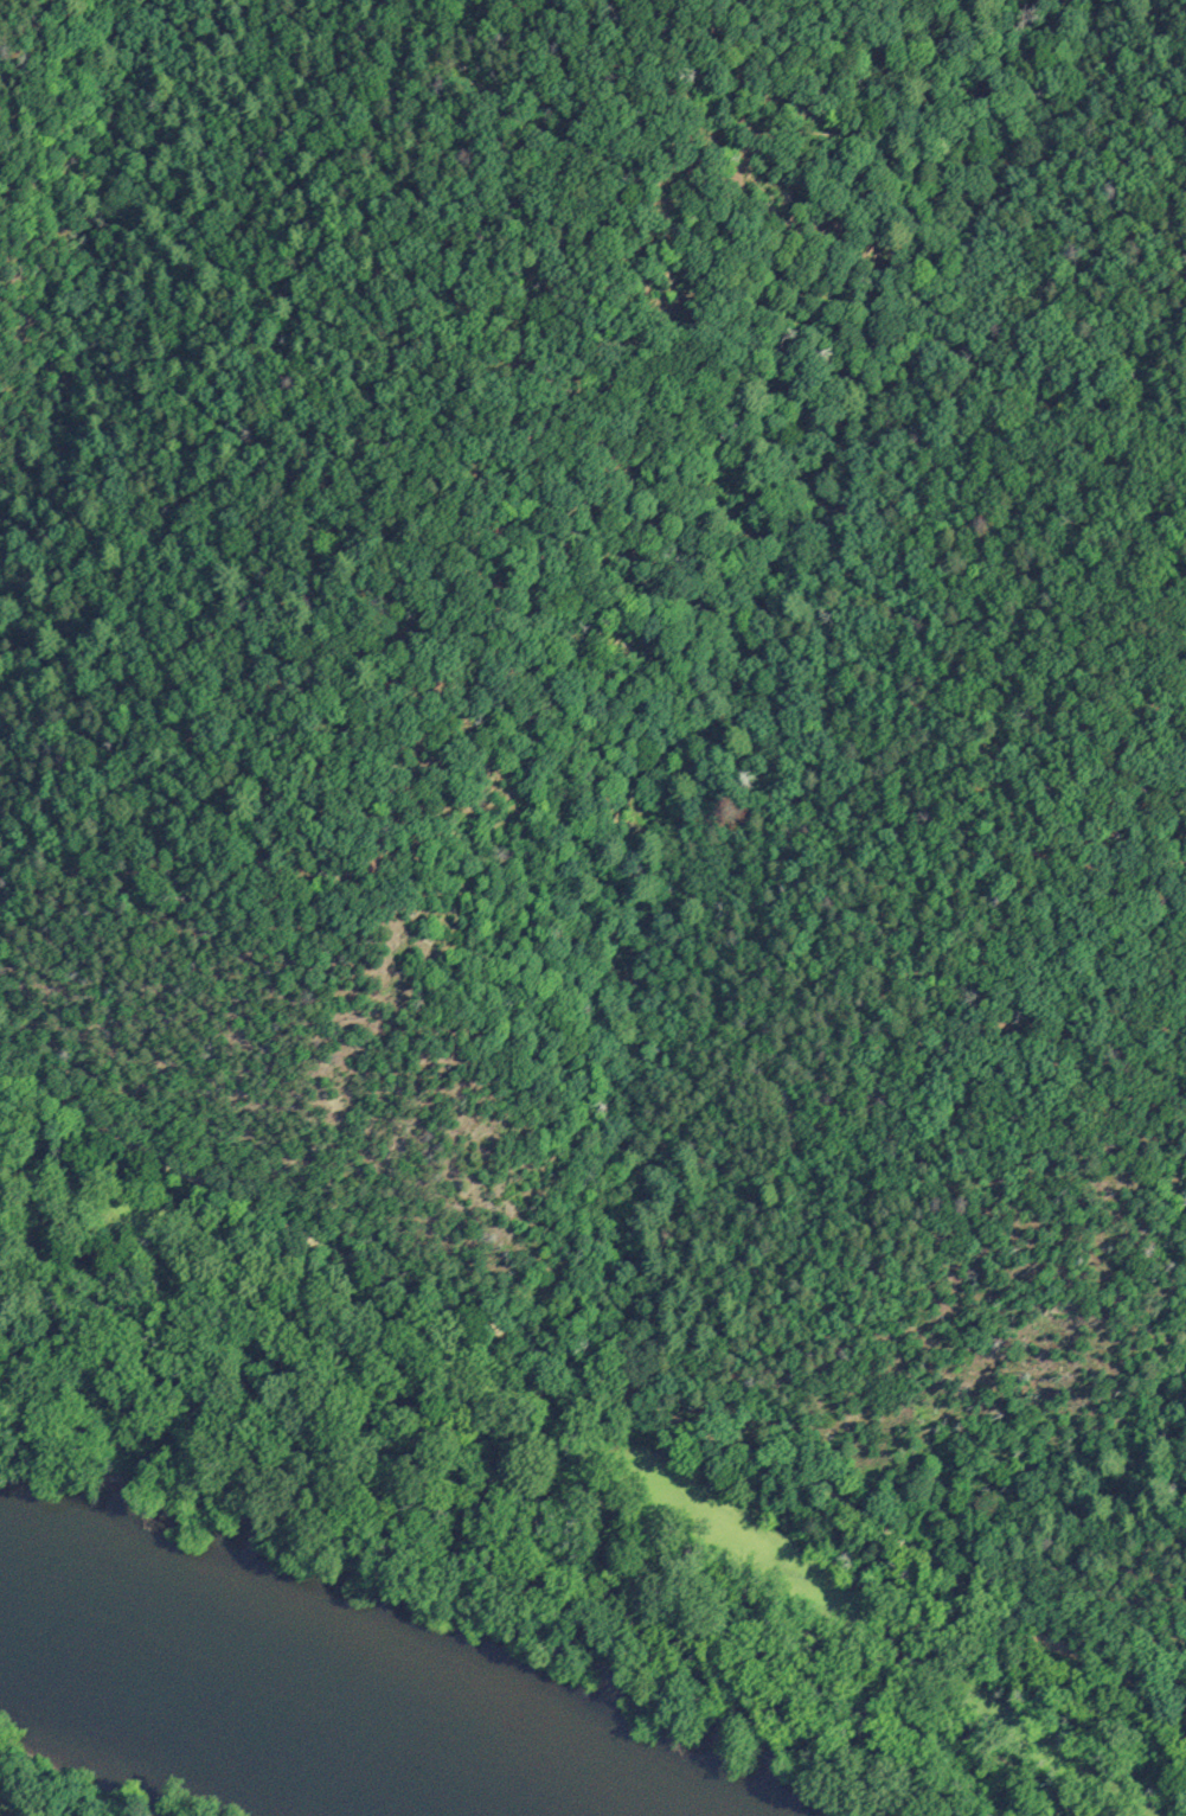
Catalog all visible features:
road: (603, 1382)
road: (559, 1476)
river: (268, 1694)

